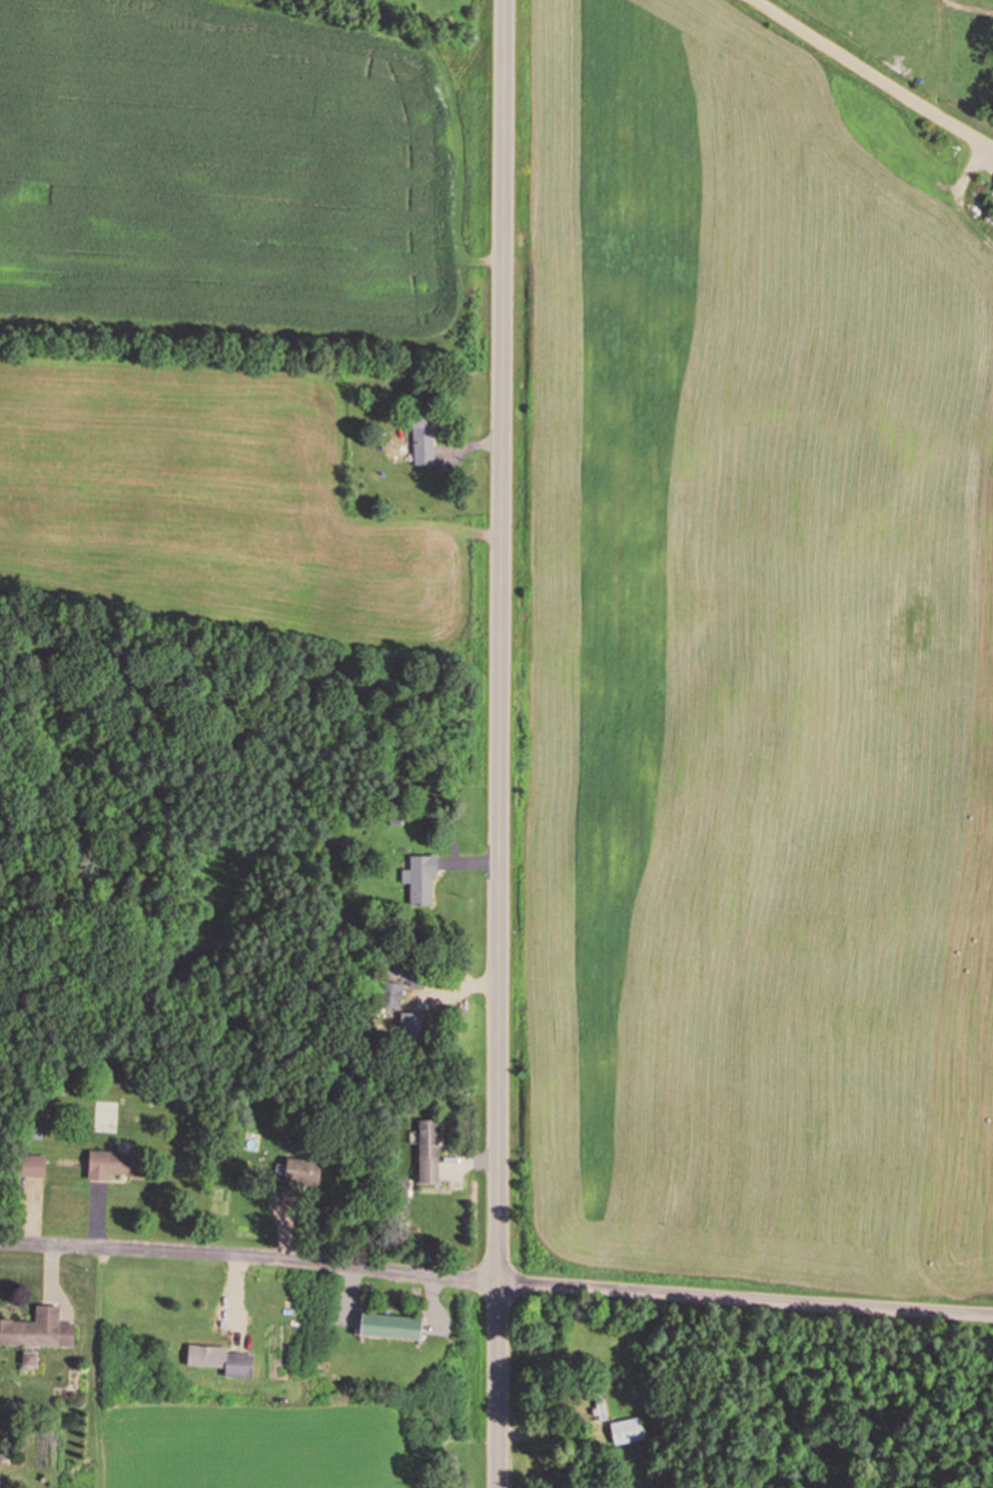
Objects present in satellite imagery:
road: (873, 75)
building: (423, 436)
road: (501, 743)
building: (419, 878)
building: (406, 973)
building: (411, 1026)
building: (427, 1151)
building: (114, 1164)
building: (29, 1165)
building: (297, 1178)
road: (496, 1283)
building: (388, 1326)
building: (37, 1329)
building: (218, 1359)
building: (597, 1404)
building: (626, 1430)

